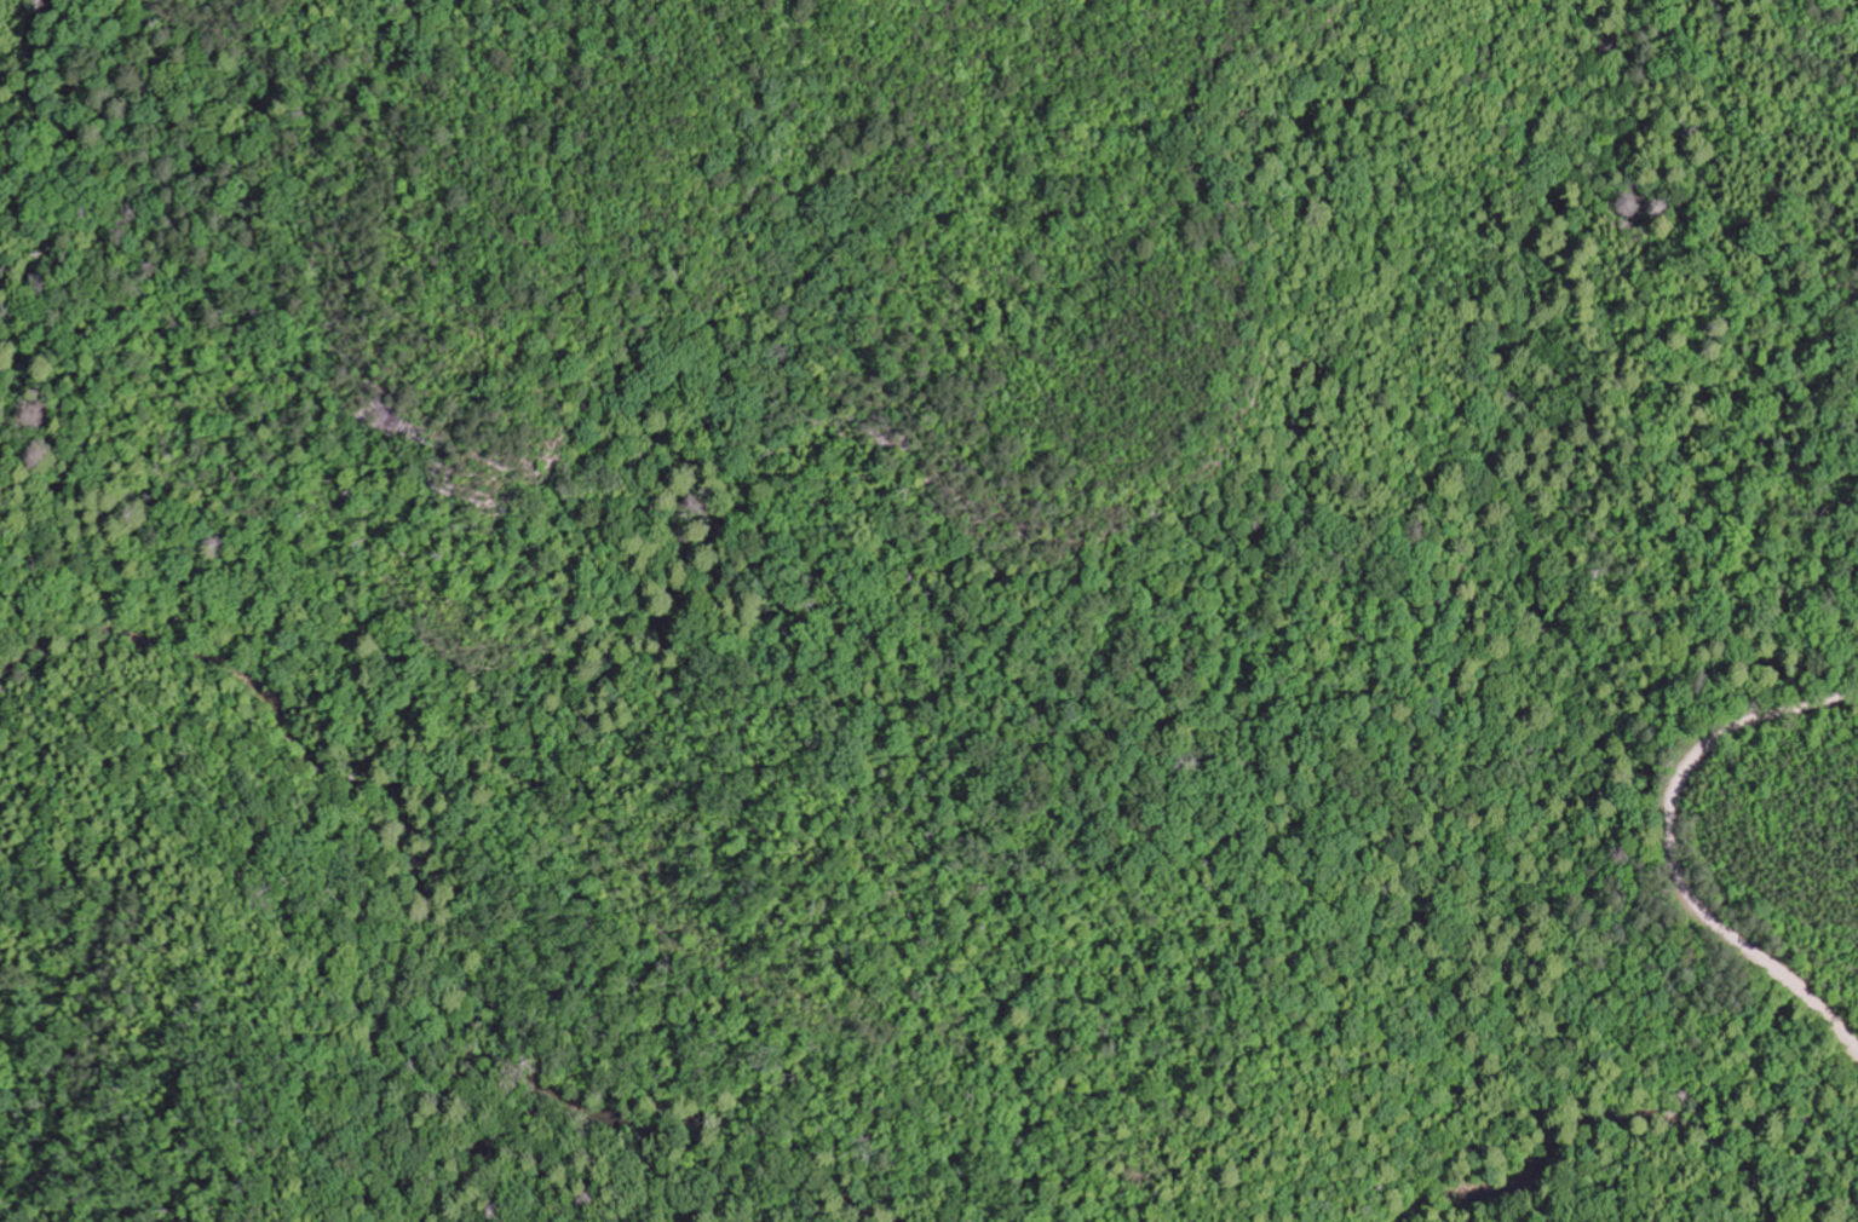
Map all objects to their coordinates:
road: (1679, 846)
road: (419, 935)
road: (1628, 1172)

